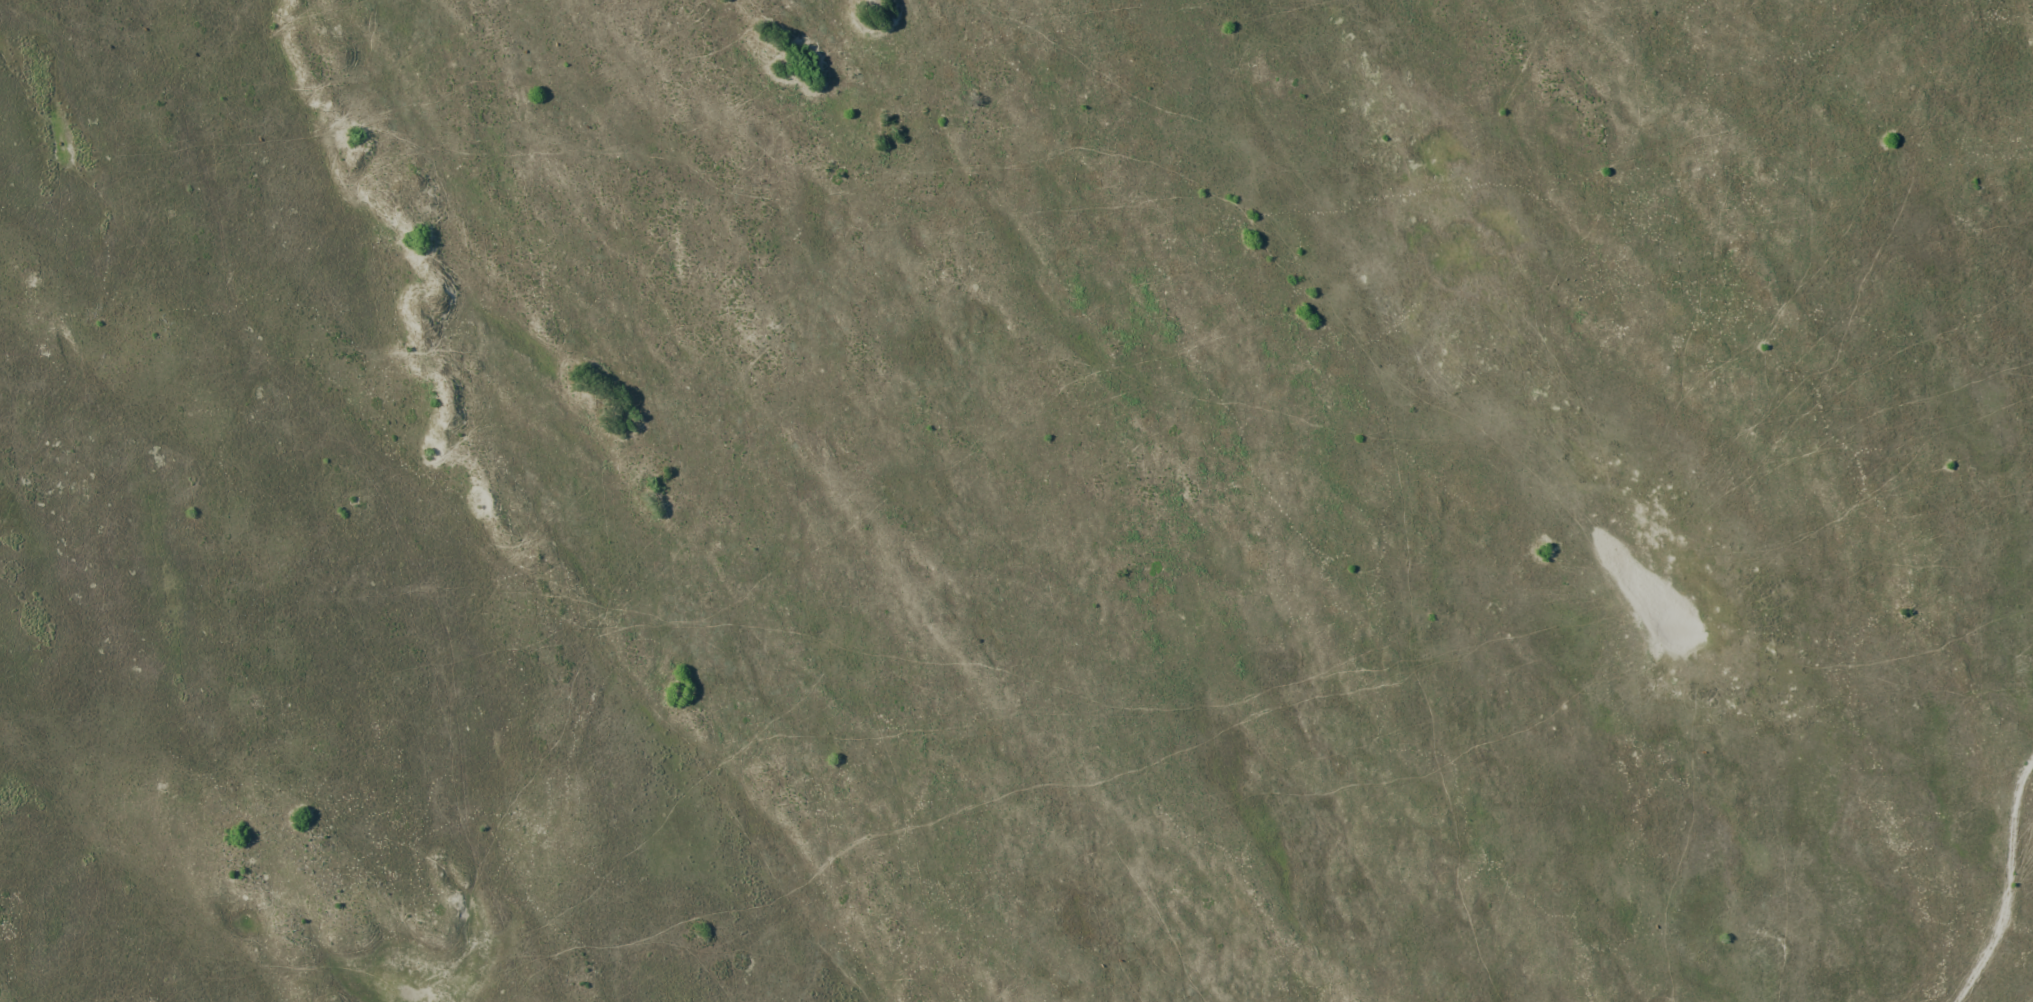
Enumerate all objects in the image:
road: (605, 519)

